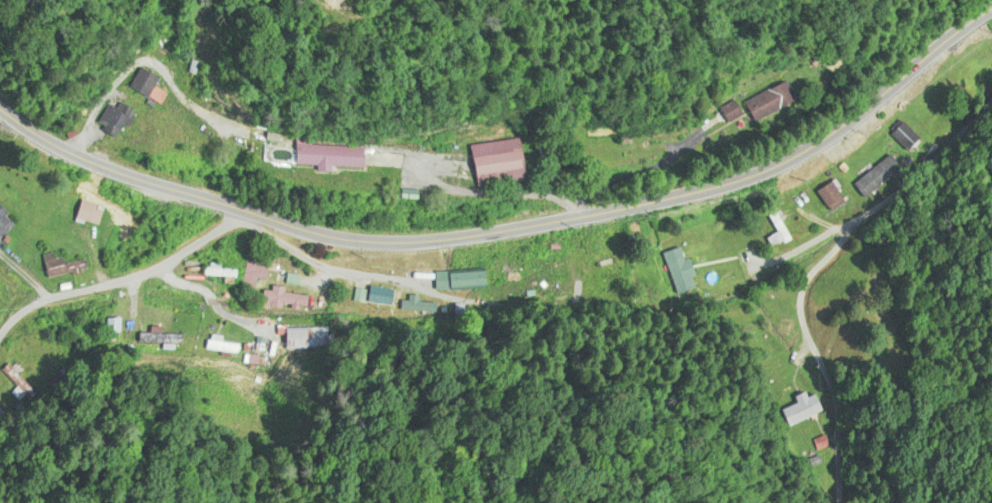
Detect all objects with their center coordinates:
building: (145, 81)
building: (778, 104)
building: (116, 118)
building: (906, 137)
building: (335, 156)
building: (508, 163)
building: (874, 176)
building: (835, 196)
building: (91, 213)
building: (4, 221)
road: (512, 230)
building: (780, 231)
road: (103, 253)
building: (614, 264)
building: (57, 265)
building: (255, 270)
building: (220, 271)
building: (538, 271)
building: (681, 271)
building: (506, 272)
building: (462, 280)
building: (300, 337)
building: (171, 339)
building: (221, 345)
road: (302, 363)
building: (15, 382)
building: (802, 408)
road: (953, 414)

